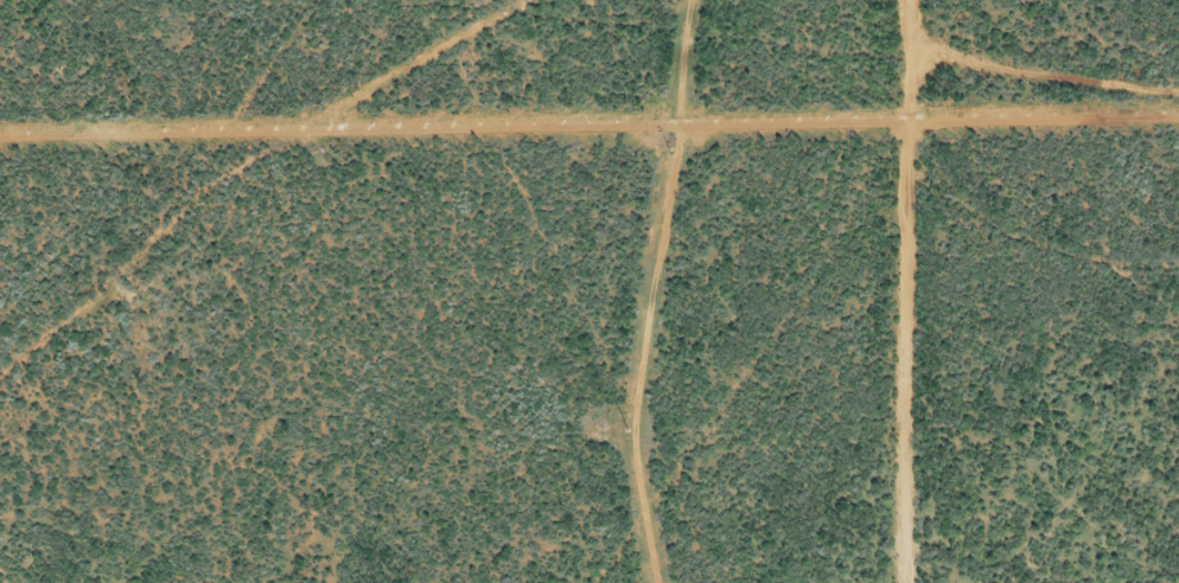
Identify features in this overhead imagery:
power tower: (671, 153)
road: (1071, 271)
road: (964, 290)
power tower: (629, 430)

